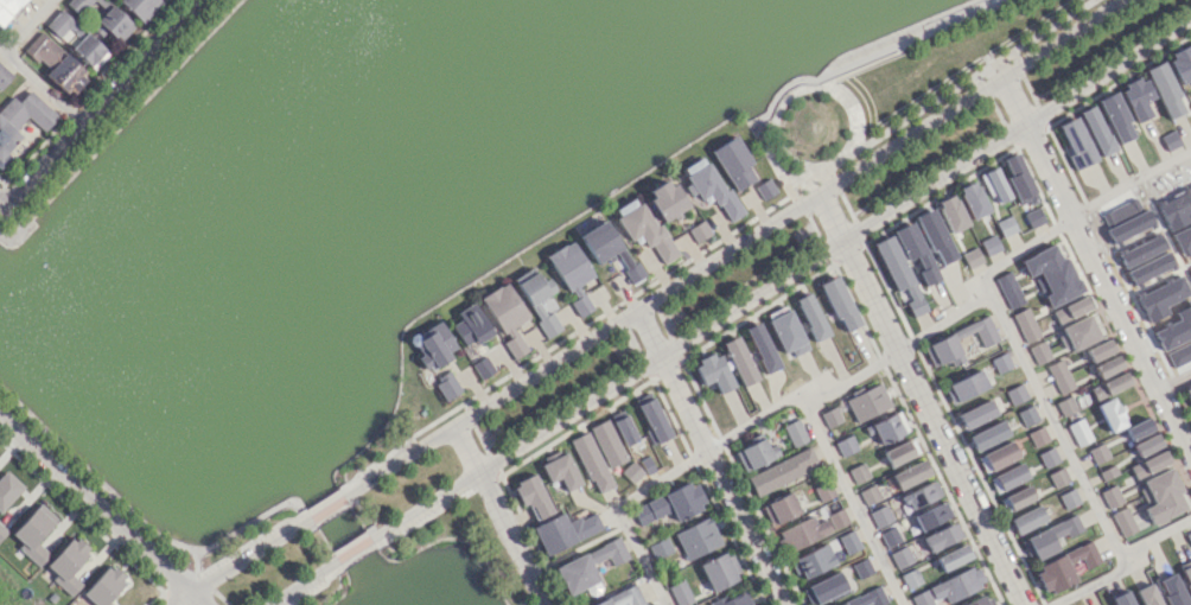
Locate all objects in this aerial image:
building: (77, 5)
building: (140, 7)
building: (7, 8)
building: (114, 23)
building: (85, 40)
building: (56, 63)
building: (1180, 63)
road: (19, 65)
building: (4, 75)
building: (1164, 90)
building: (1136, 97)
road: (98, 103)
building: (1115, 117)
building: (20, 119)
building: (1096, 130)
building: (1075, 142)
building: (733, 163)
building: (1018, 179)
road: (1129, 181)
building: (994, 185)
building: (764, 189)
building: (713, 190)
building: (665, 199)
building: (972, 199)
building: (951, 212)
building: (1179, 212)
building: (1033, 217)
building: (1128, 222)
building: (1005, 225)
building: (645, 230)
building: (698, 231)
building: (935, 236)
building: (600, 241)
building: (1185, 241)
building: (989, 244)
road: (728, 247)
building: (915, 251)
building: (1144, 253)
building: (970, 257)
road: (1095, 268)
building: (1149, 269)
park: (743, 270)
building: (633, 272)
building: (897, 272)
building: (1051, 273)
building: (572, 274)
road: (783, 280)
building: (1008, 289)
building: (539, 299)
building: (1163, 300)
building: (839, 304)
building: (1070, 308)
building: (505, 316)
building: (810, 317)
building: (1025, 324)
building: (470, 325)
building: (1177, 330)
building: (784, 331)
building: (1078, 332)
building: (941, 342)
building: (435, 345)
building: (760, 348)
building: (1098, 350)
building: (1038, 352)
building: (1182, 357)
building: (739, 361)
building: (1000, 362)
building: (482, 367)
building: (1107, 367)
building: (713, 371)
road: (1026, 371)
building: (1059, 376)
road: (846, 378)
road: (1172, 380)
building: (1114, 383)
building: (446, 384)
building: (964, 386)
building: (1190, 386)
building: (1015, 394)
building: (1187, 394)
road: (918, 397)
building: (867, 402)
building: (1065, 406)
road: (4, 413)
building: (1109, 413)
building: (975, 414)
building: (1026, 415)
building: (829, 416)
building: (652, 420)
building: (889, 427)
building: (1138, 428)
building: (623, 429)
building: (794, 432)
building: (1078, 432)
building: (987, 435)
building: (1037, 435)
road: (9, 439)
building: (606, 442)
building: (1145, 444)
building: (845, 445)
building: (899, 452)
building: (754, 453)
building: (1097, 453)
road: (706, 457)
building: (996, 457)
building: (1047, 457)
building: (591, 461)
building: (1148, 464)
building: (560, 471)
building: (631, 471)
building: (781, 471)
building: (858, 472)
building: (909, 473)
building: (1006, 477)
building: (1057, 477)
road: (28, 486)
building: (7, 489)
building: (822, 490)
building: (868, 495)
building: (919, 495)
building: (531, 496)
building: (1110, 496)
building: (1160, 496)
building: (1015, 498)
building: (1068, 498)
building: (683, 499)
road: (849, 502)
road: (96, 503)
road: (324, 505)
building: (779, 508)
road: (614, 510)
building: (649, 510)
road: (499, 514)
building: (879, 516)
building: (930, 516)
building: (836, 518)
building: (1025, 520)
building: (1122, 521)
building: (2, 530)
building: (563, 530)
building: (33, 533)
building: (802, 533)
building: (889, 536)
building: (941, 536)
building: (696, 537)
building: (1049, 537)
building: (848, 541)
building: (660, 547)
road: (355, 552)
road: (246, 554)
building: (900, 556)
building: (953, 556)
building: (811, 561)
building: (66, 565)
road: (1125, 565)
building: (586, 566)
building: (861, 567)
building: (1063, 567)
building: (719, 569)
building: (1185, 574)
building: (910, 578)
road: (305, 584)
building: (956, 584)
building: (103, 586)
building: (823, 588)
building: (1171, 590)
building: (680, 593)
building: (1148, 594)
road: (173, 598)
road: (192, 598)
building: (623, 598)
building: (866, 598)
building: (922, 598)
building: (1121, 598)
building: (733, 600)
building: (980, 600)

